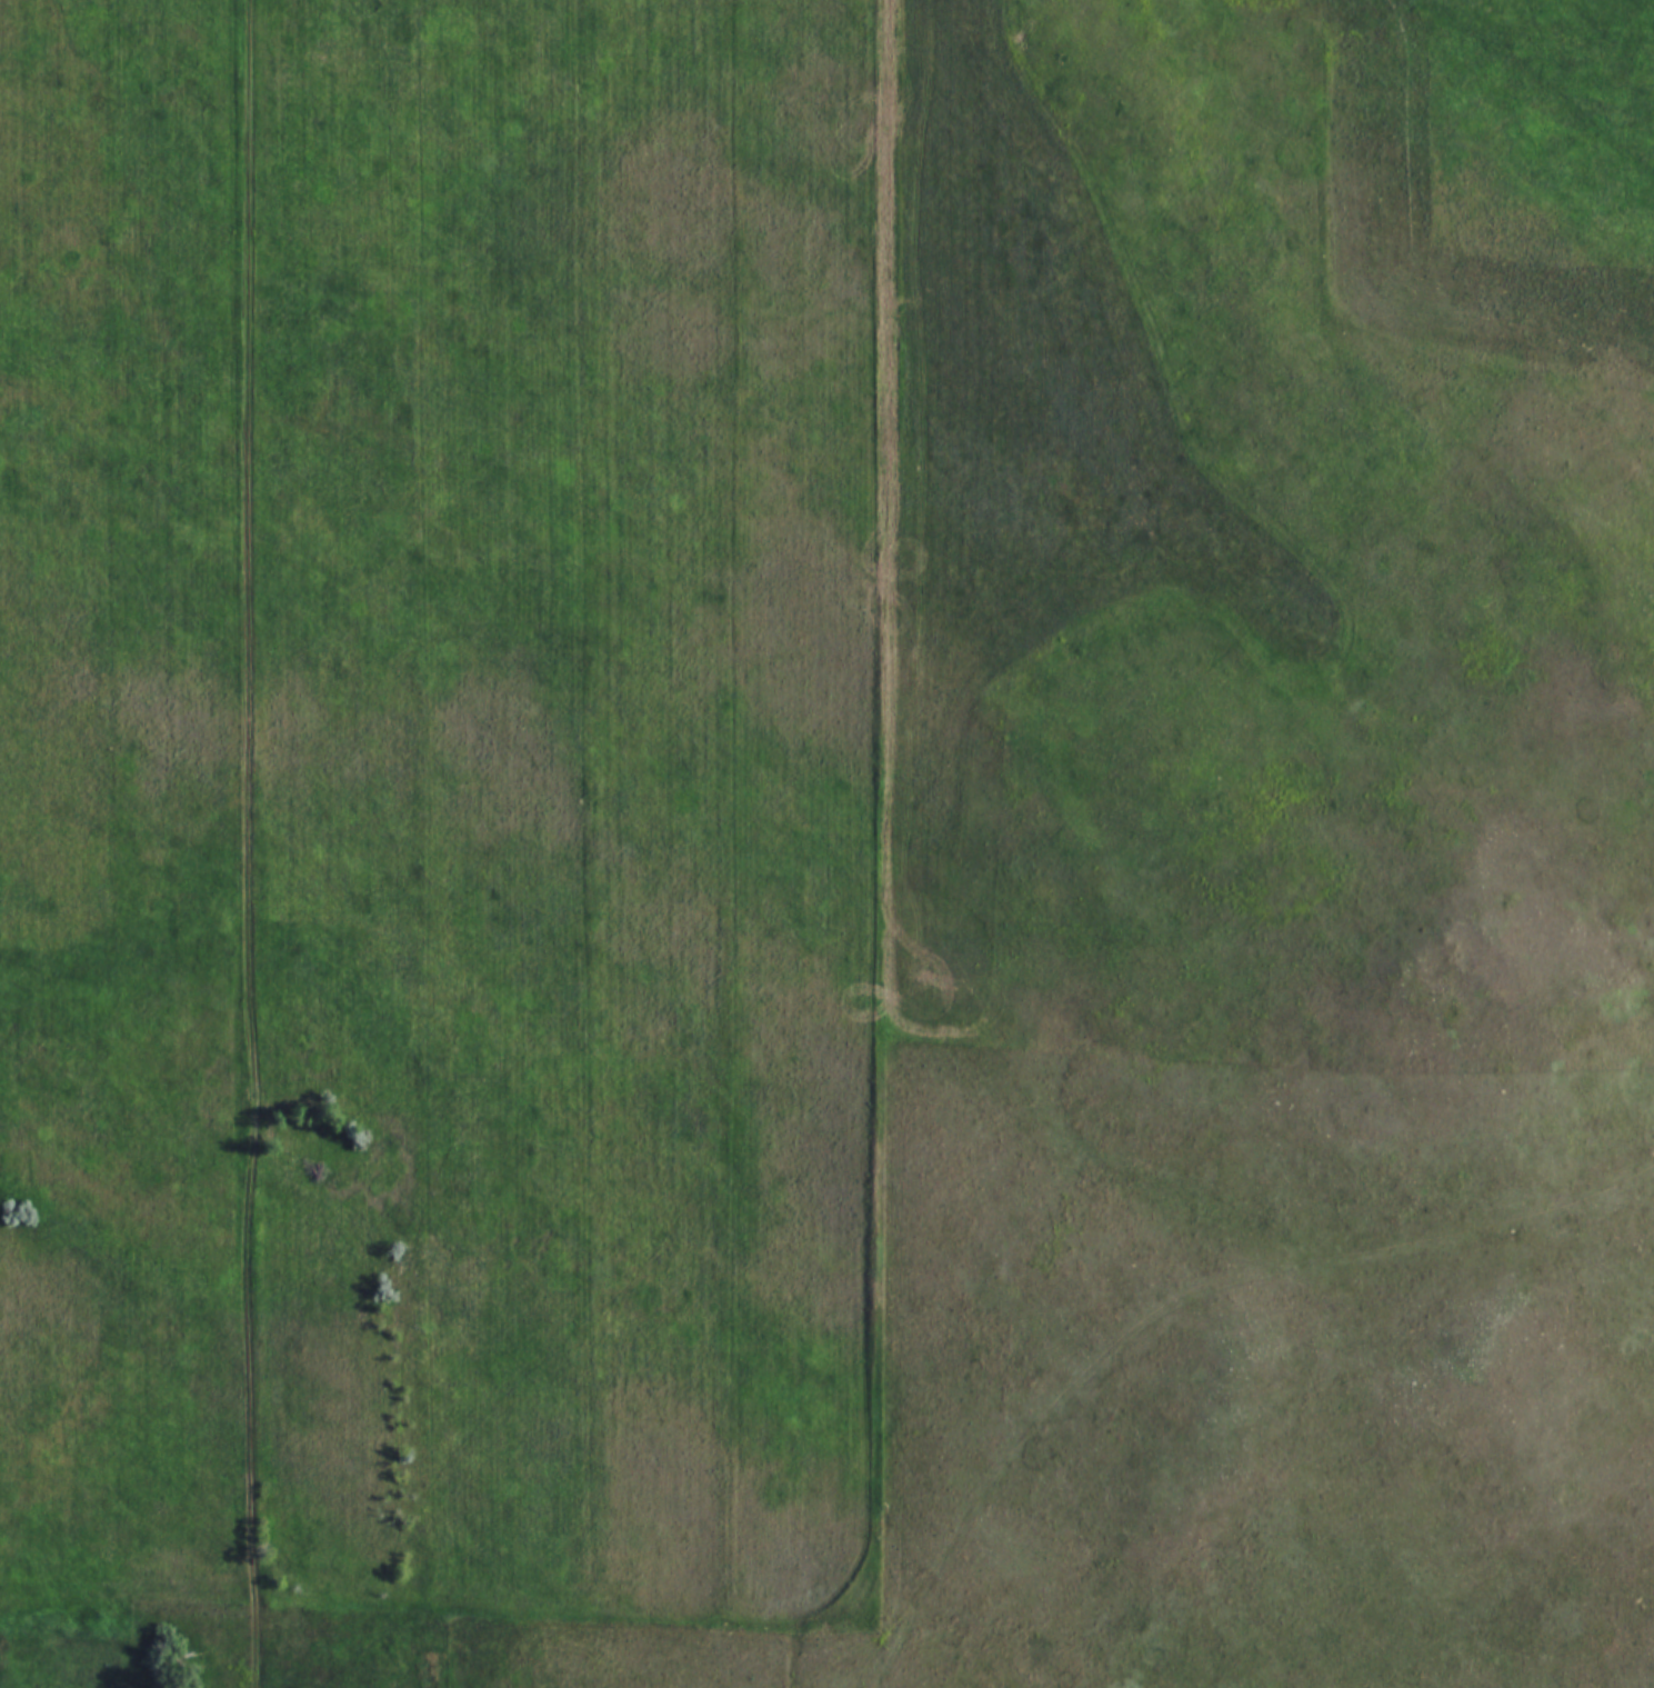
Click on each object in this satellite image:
road: (250, 889)

